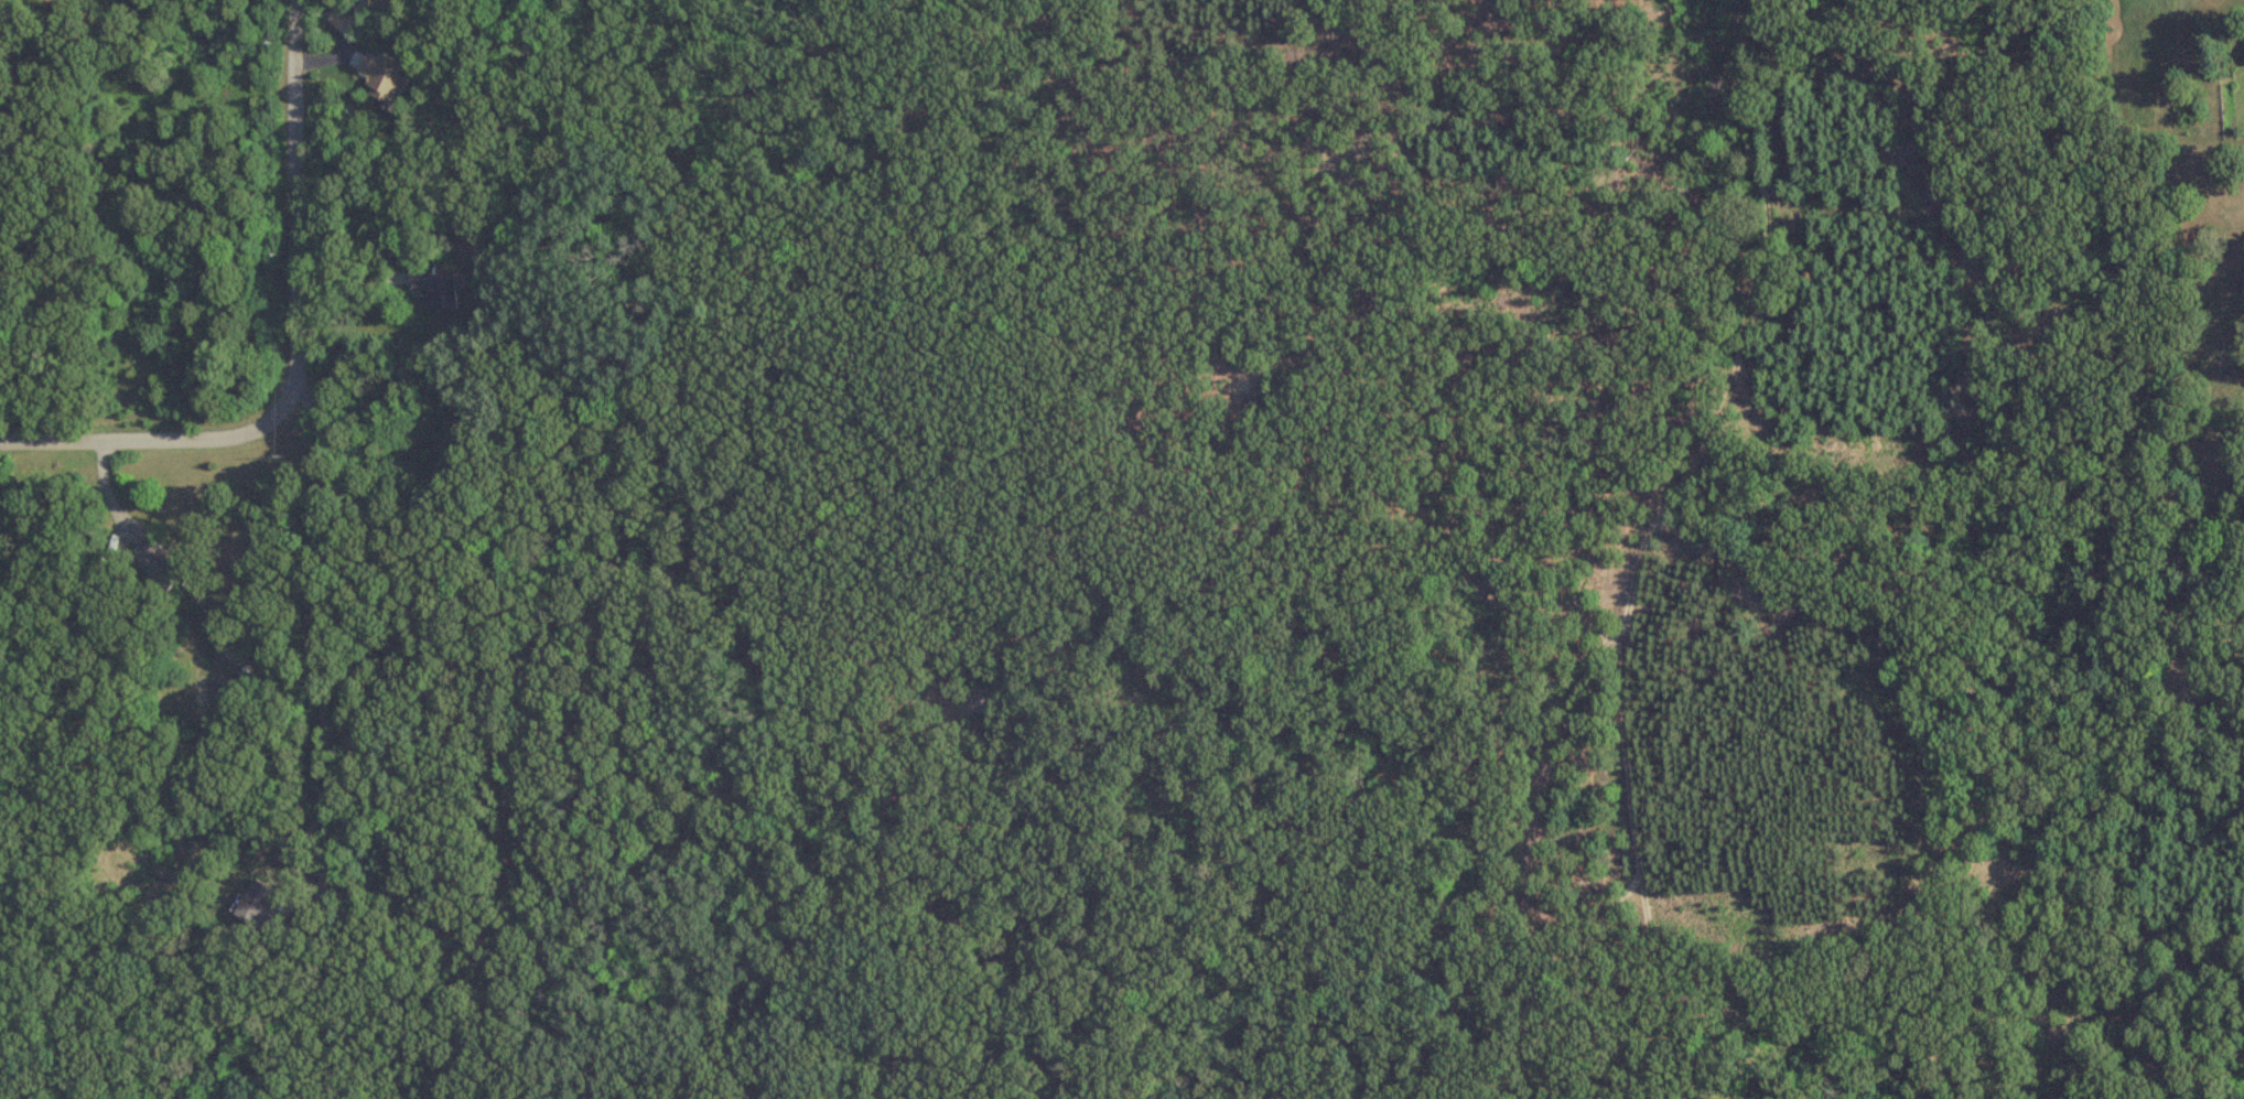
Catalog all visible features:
building: (384, 80)
building: (433, 289)
road: (295, 349)
building: (157, 563)
road: (320, 614)
building: (260, 908)

